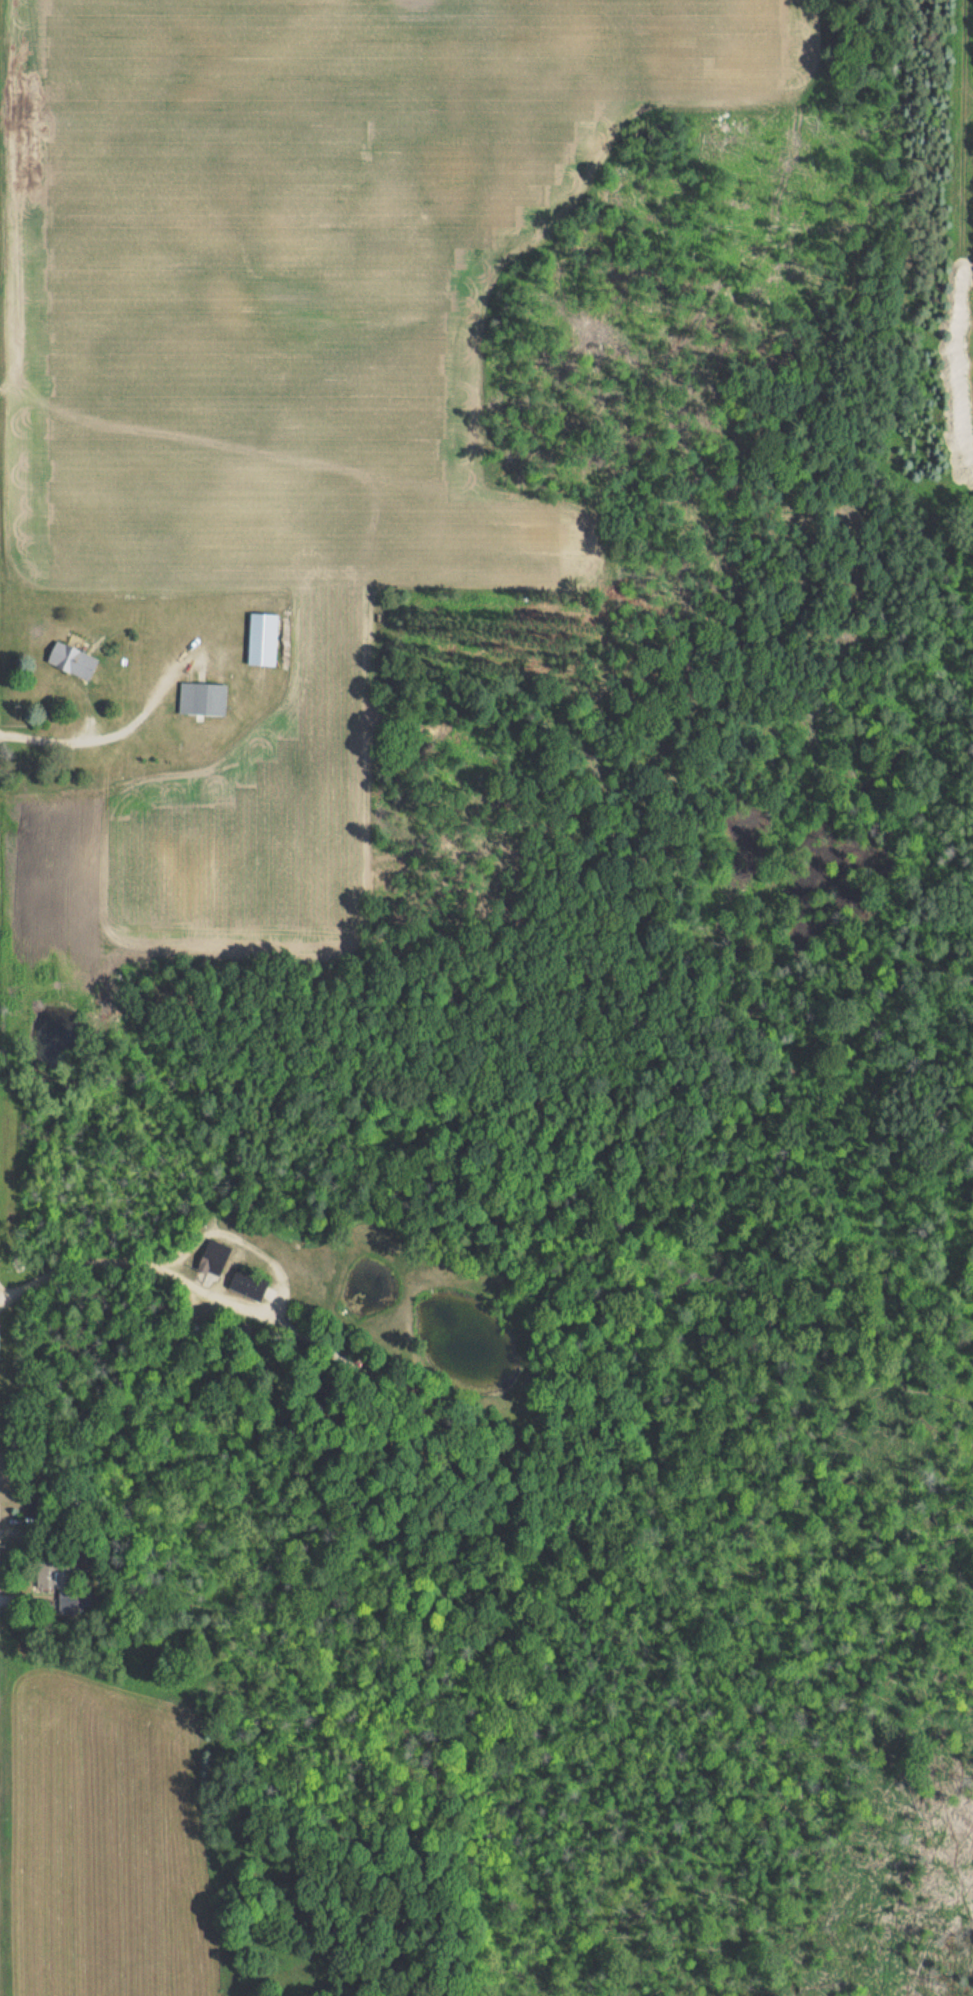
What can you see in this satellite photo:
building: (263, 638)
building: (72, 659)
building: (203, 698)
road: (93, 737)
building: (214, 1257)
building: (248, 1284)
building: (46, 1575)
building: (66, 1604)

